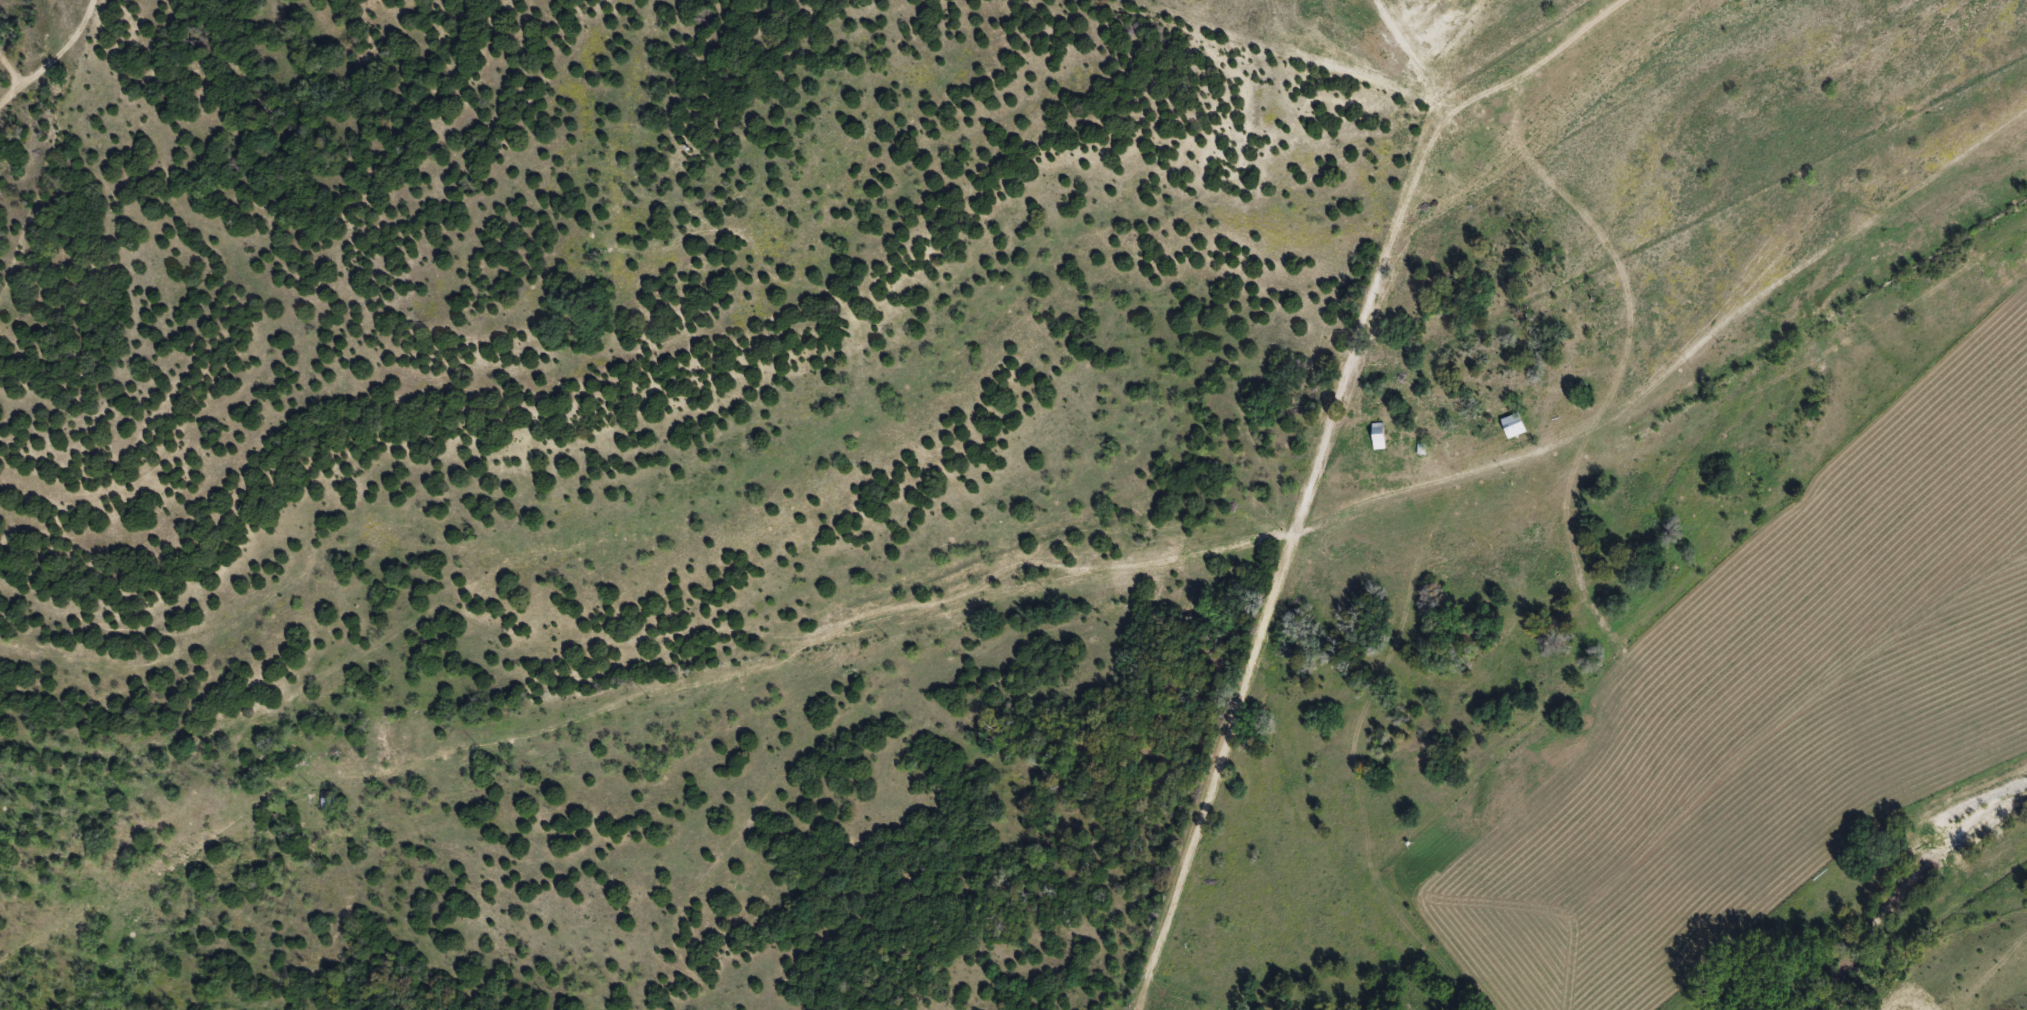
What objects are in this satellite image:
road: (1446, 247)
building: (1515, 427)
building: (1379, 443)
road: (1072, 583)
road: (226, 879)

